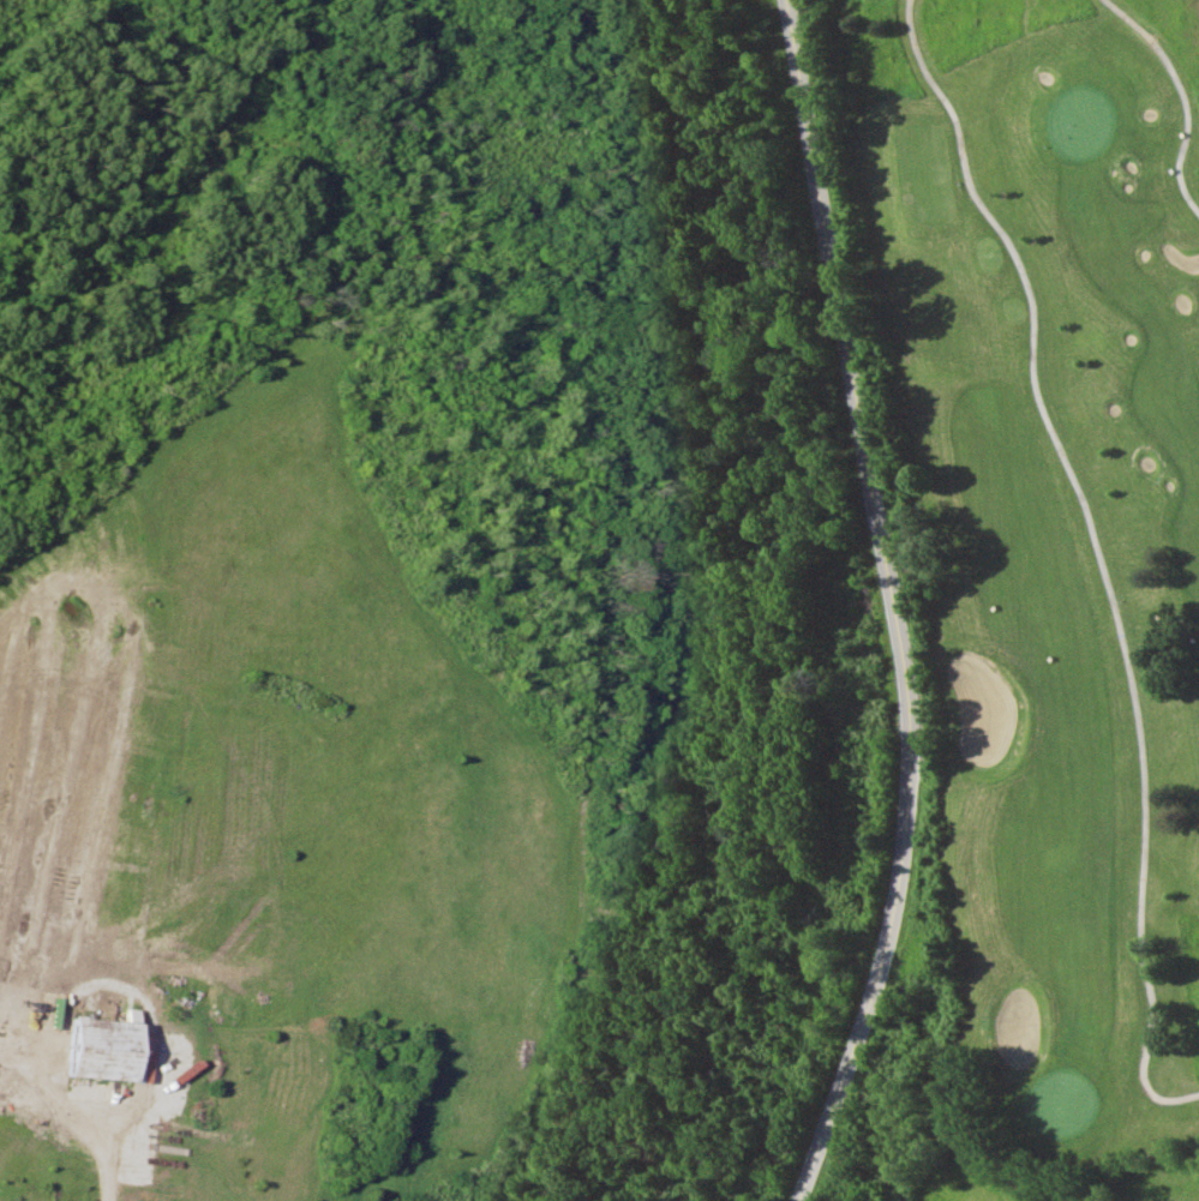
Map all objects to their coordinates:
park: (1048, 540)
road: (894, 605)
road: (582, 849)
building: (97, 1044)
road: (91, 1117)

